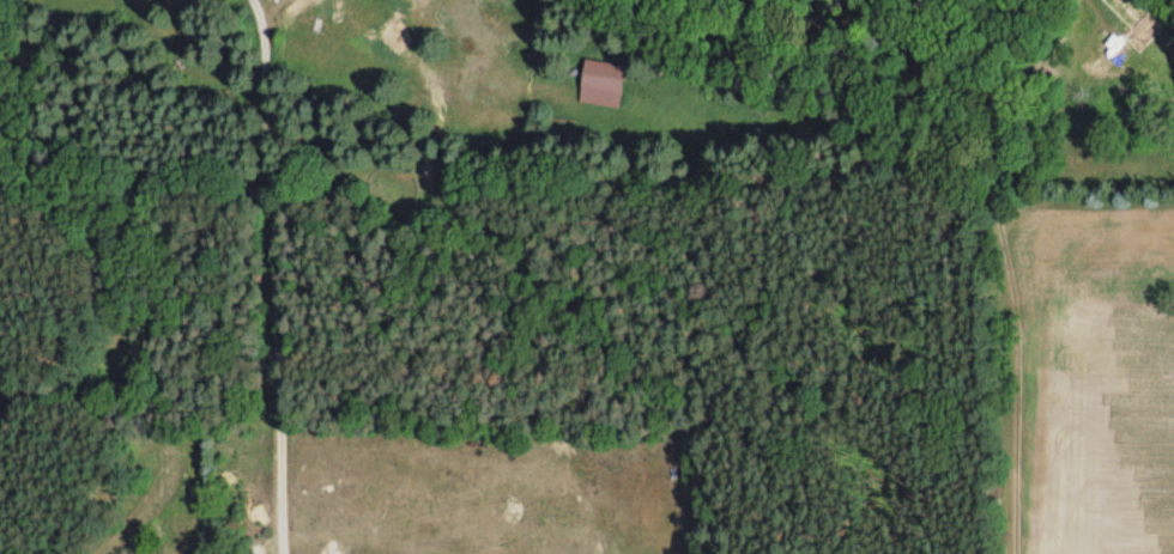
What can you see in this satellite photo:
building: (601, 84)
road: (270, 276)

